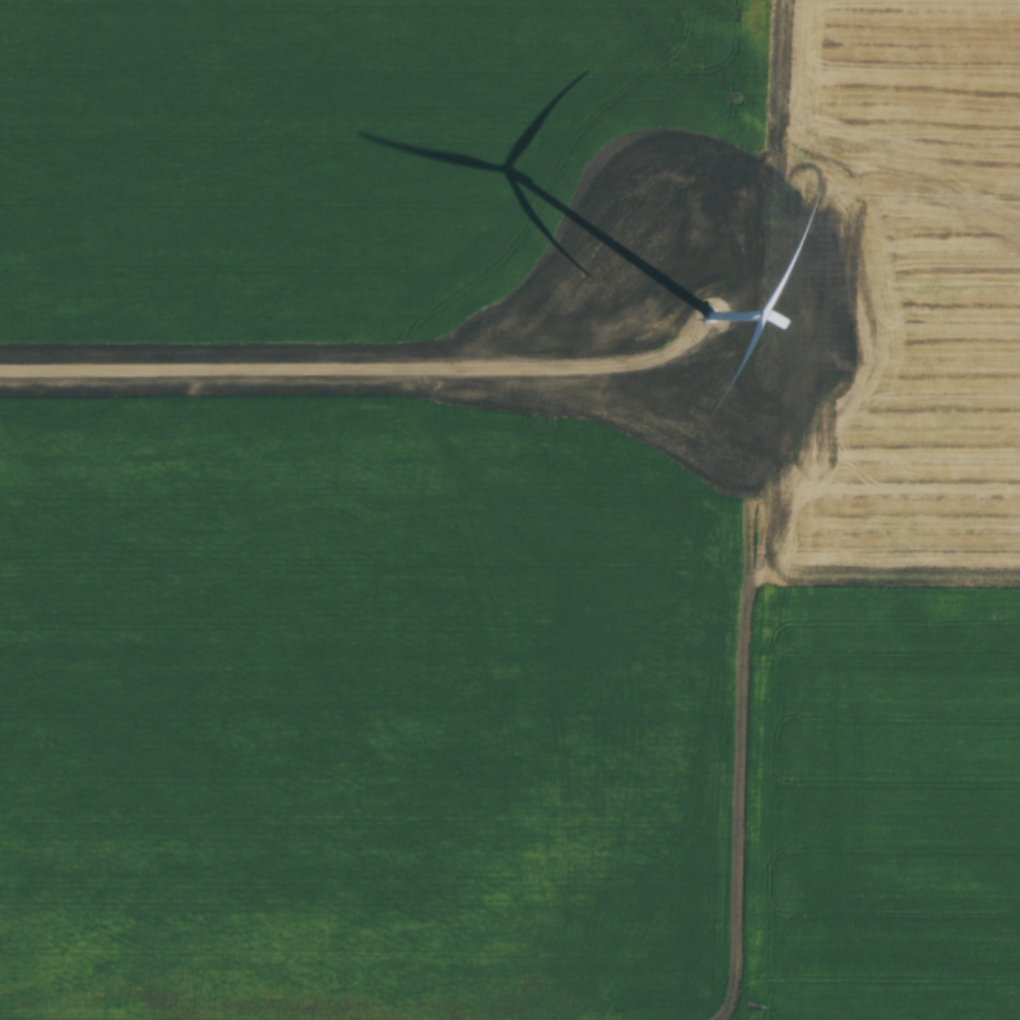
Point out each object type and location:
wind turbine: (711, 314)

